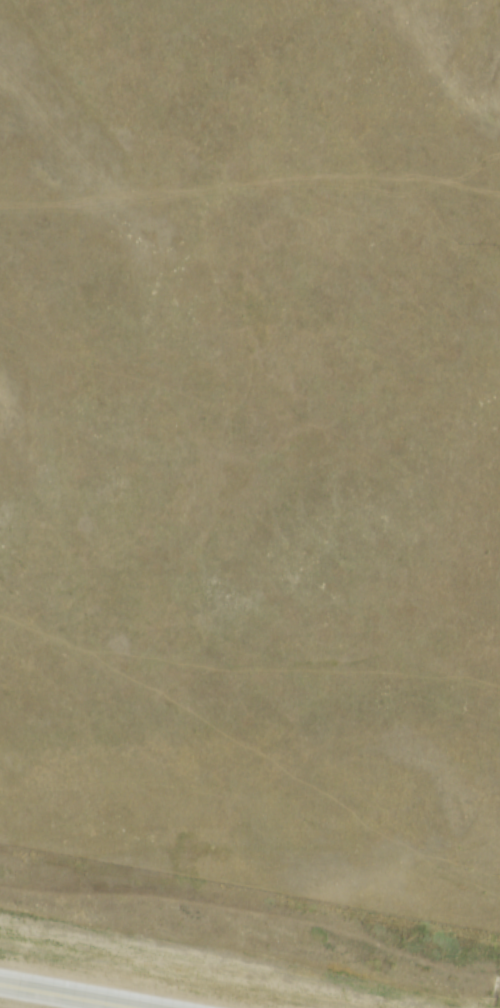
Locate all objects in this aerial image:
road: (66, 995)

